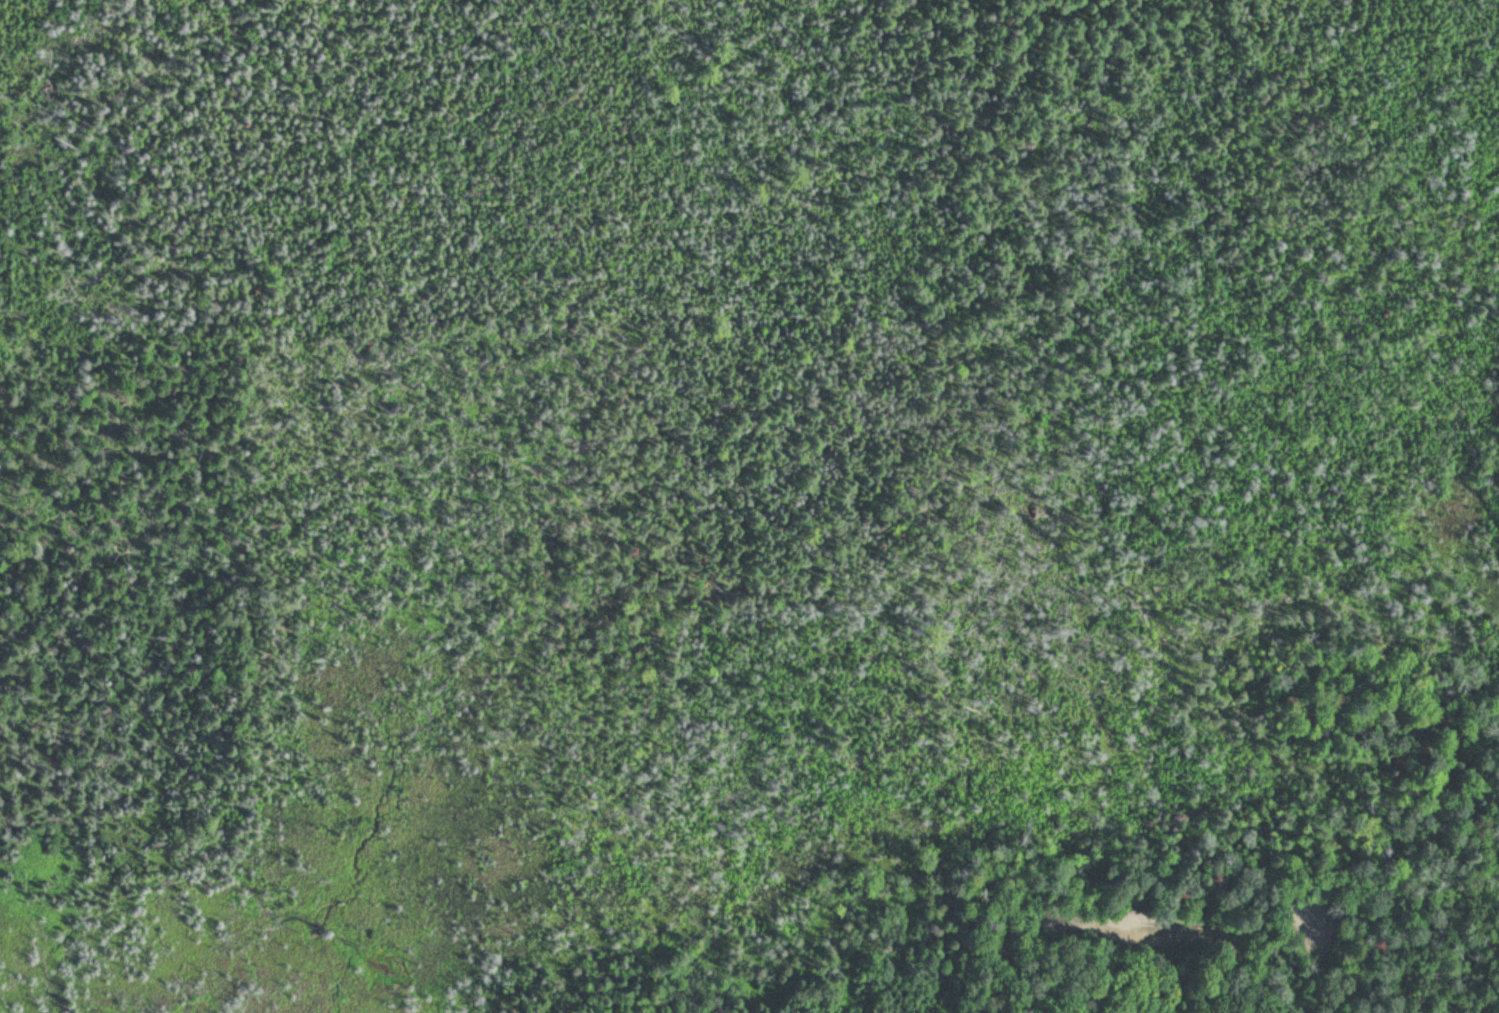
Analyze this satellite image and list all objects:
road: (960, 992)

